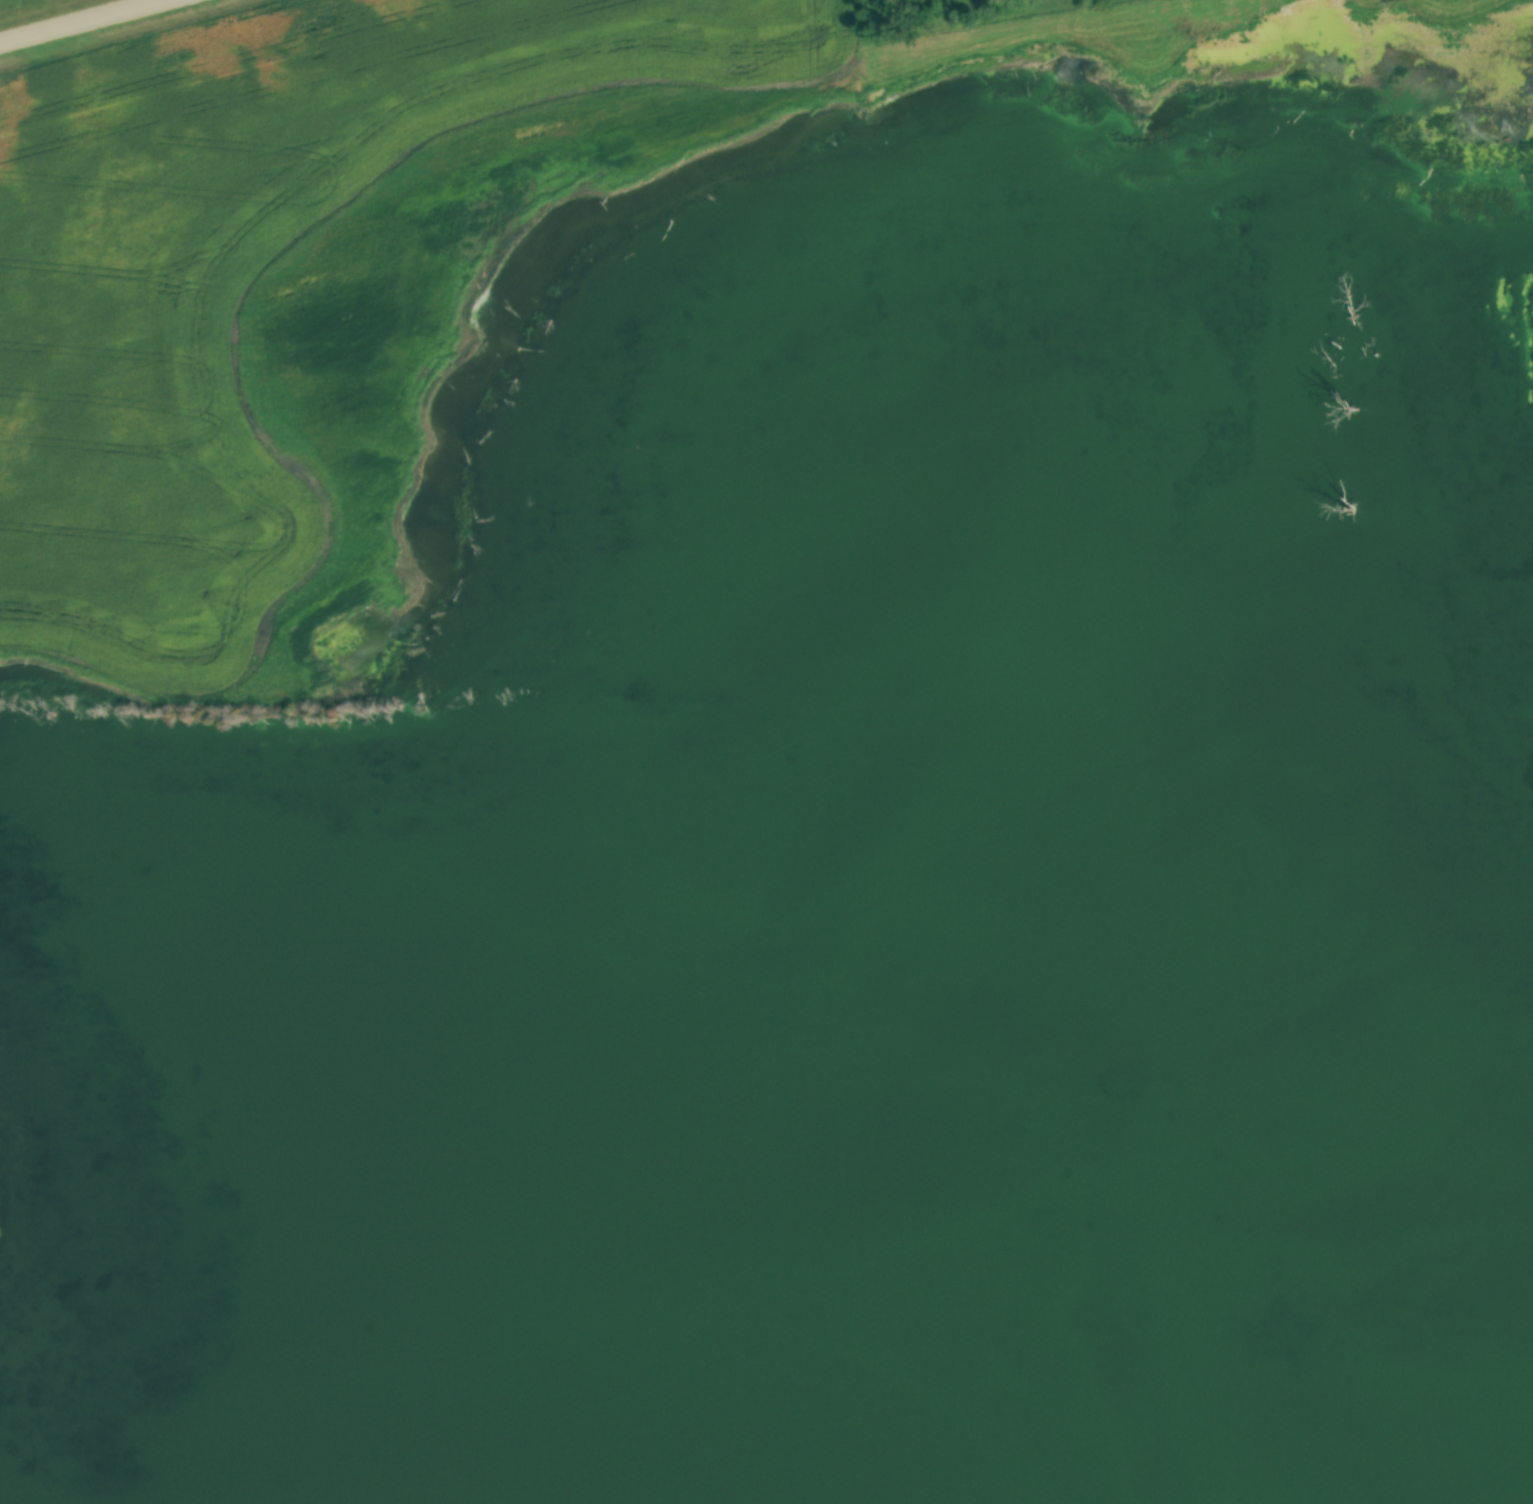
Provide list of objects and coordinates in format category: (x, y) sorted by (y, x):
road: (70, 18)

